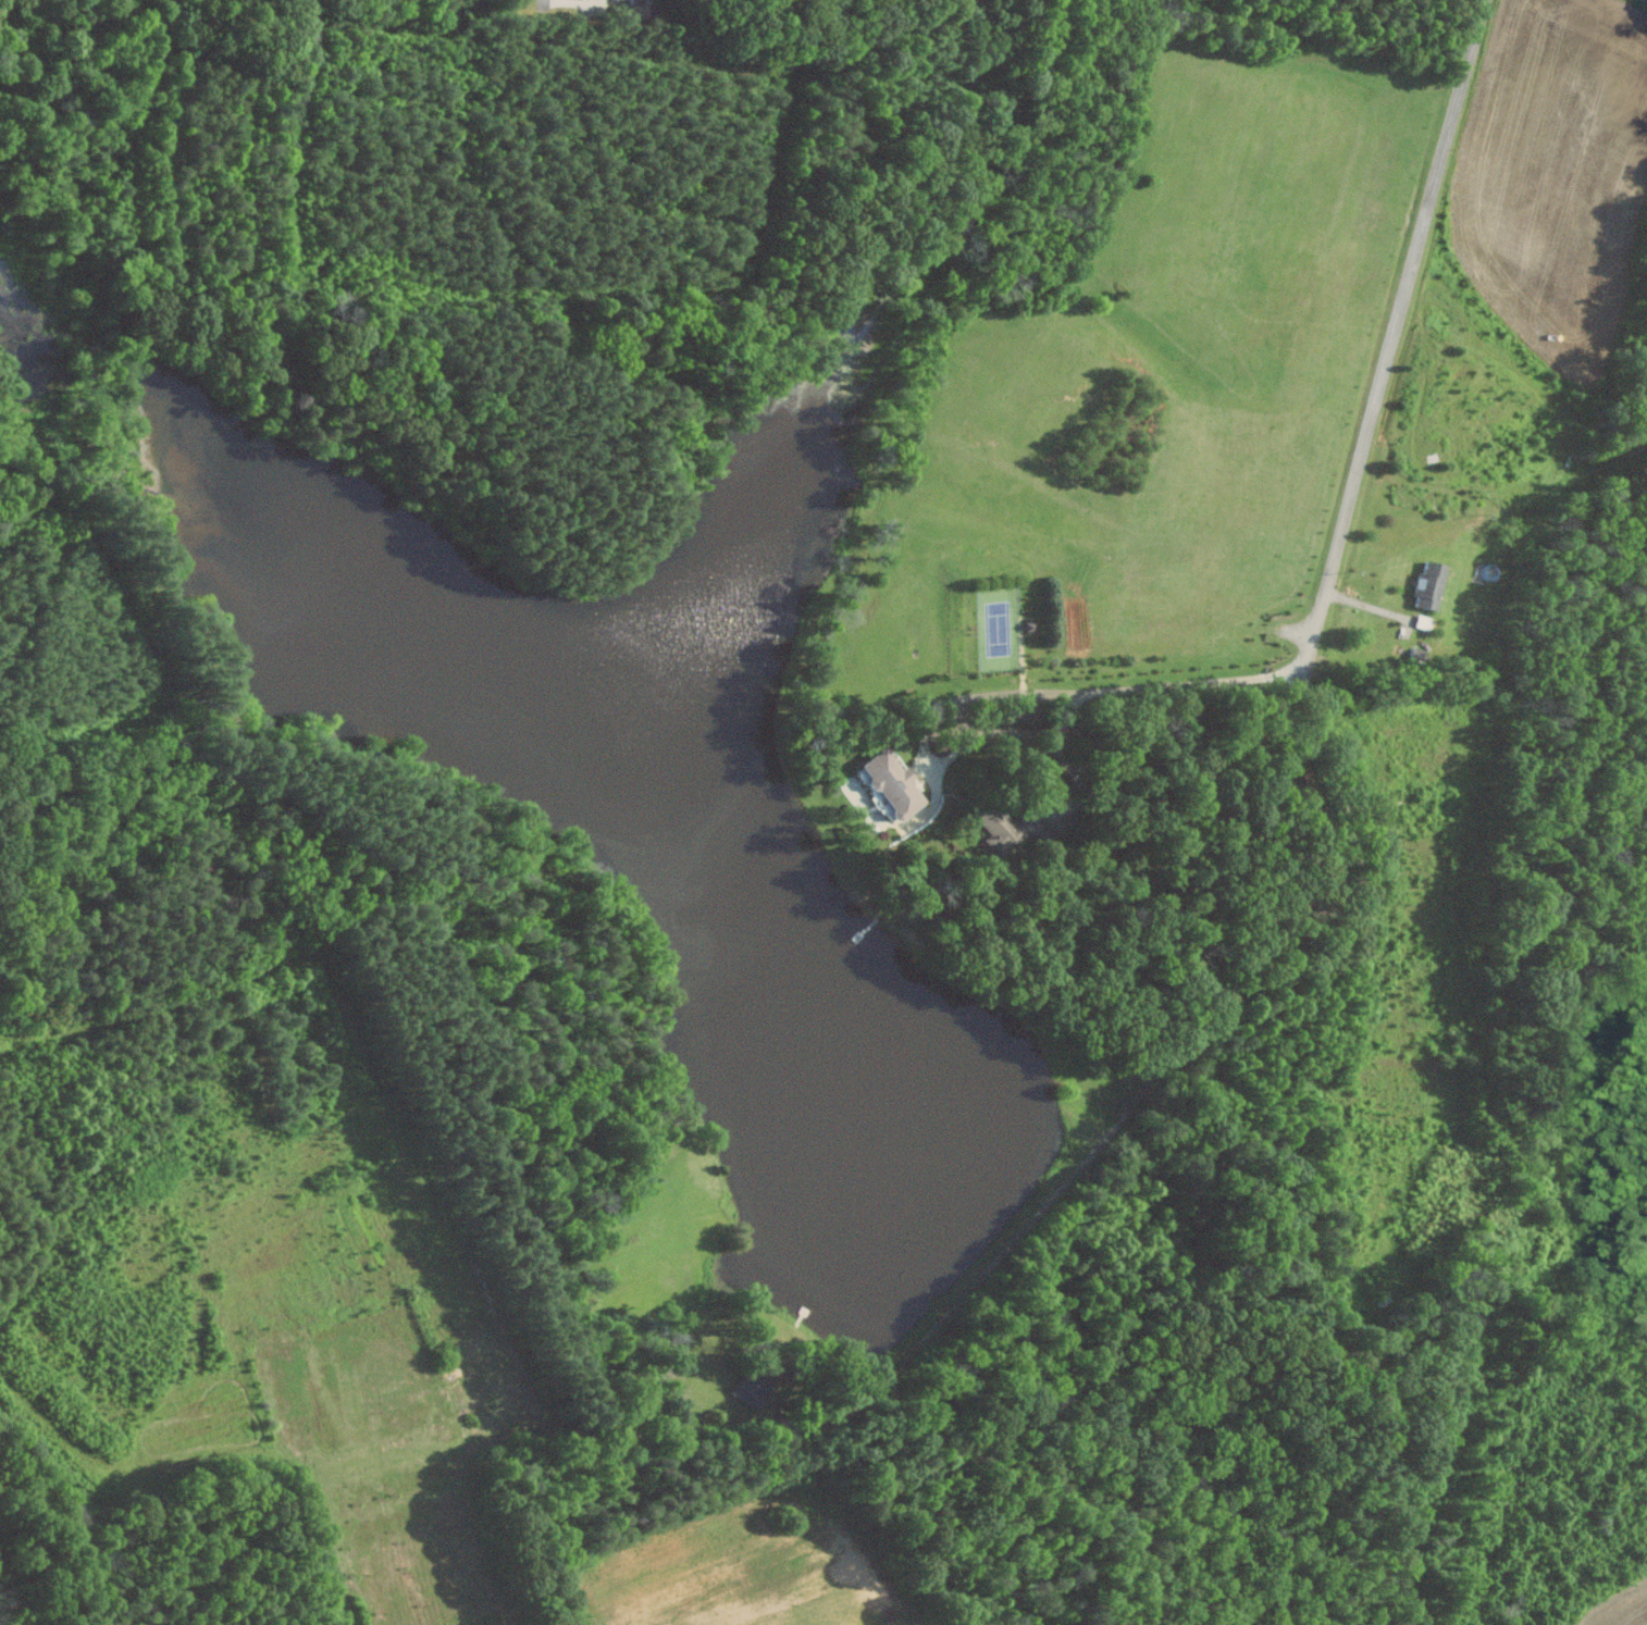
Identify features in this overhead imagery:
road: (543, 3)
building: (640, 10)
road: (1468, 60)
road: (1353, 493)
building: (1433, 583)
road: (925, 740)
road: (1079, 776)
building: (895, 783)
building: (1013, 828)
building: (753, 1389)

